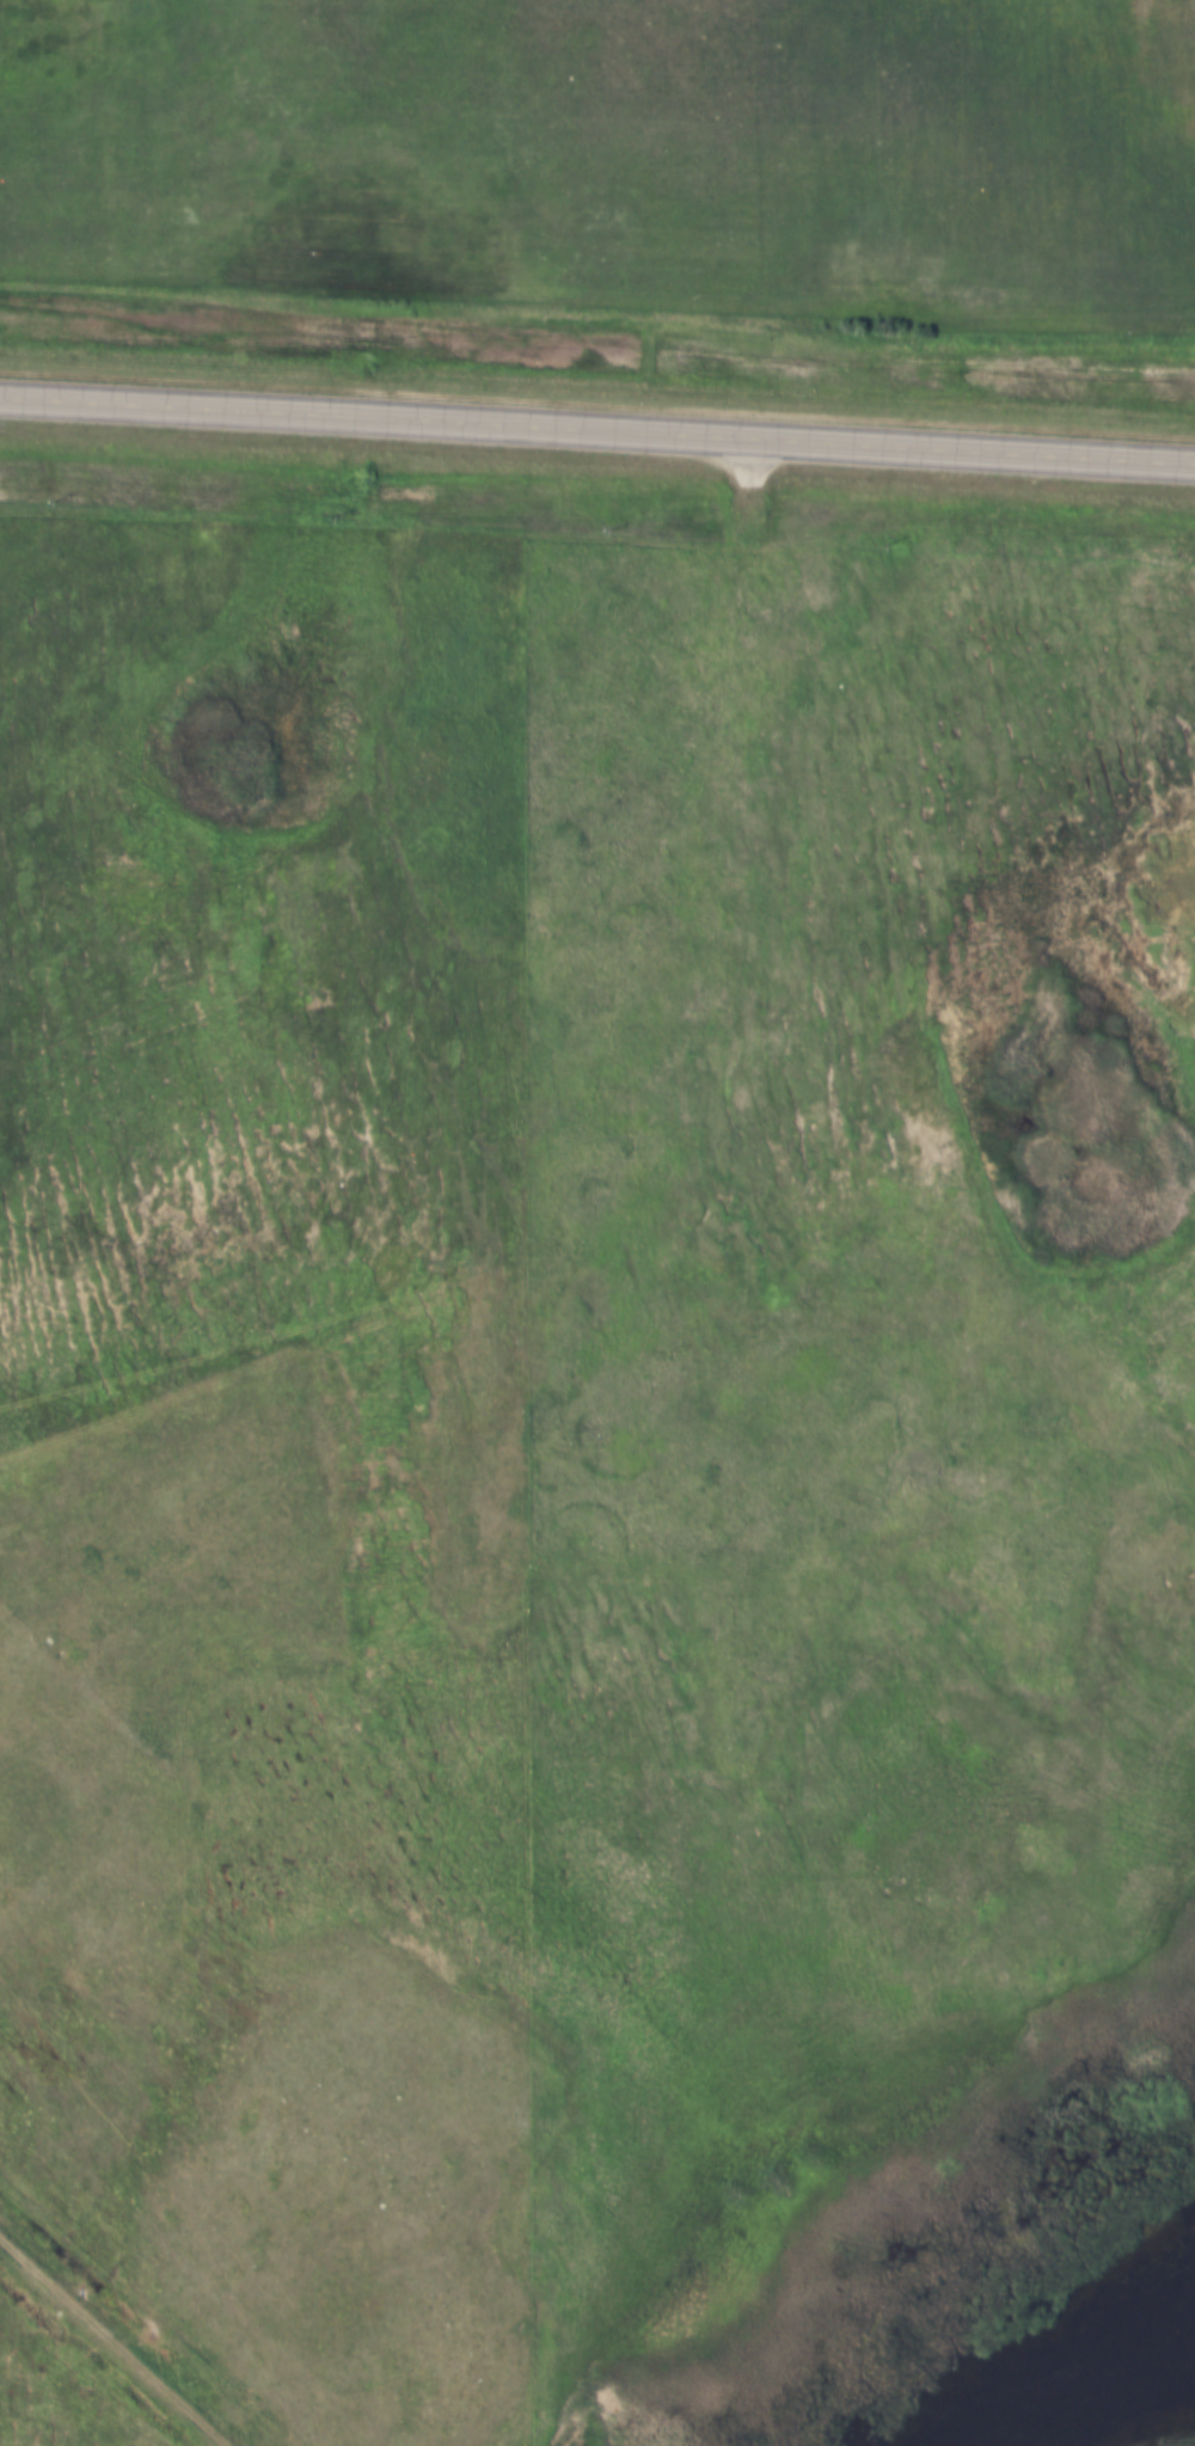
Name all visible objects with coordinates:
road: (596, 424)

